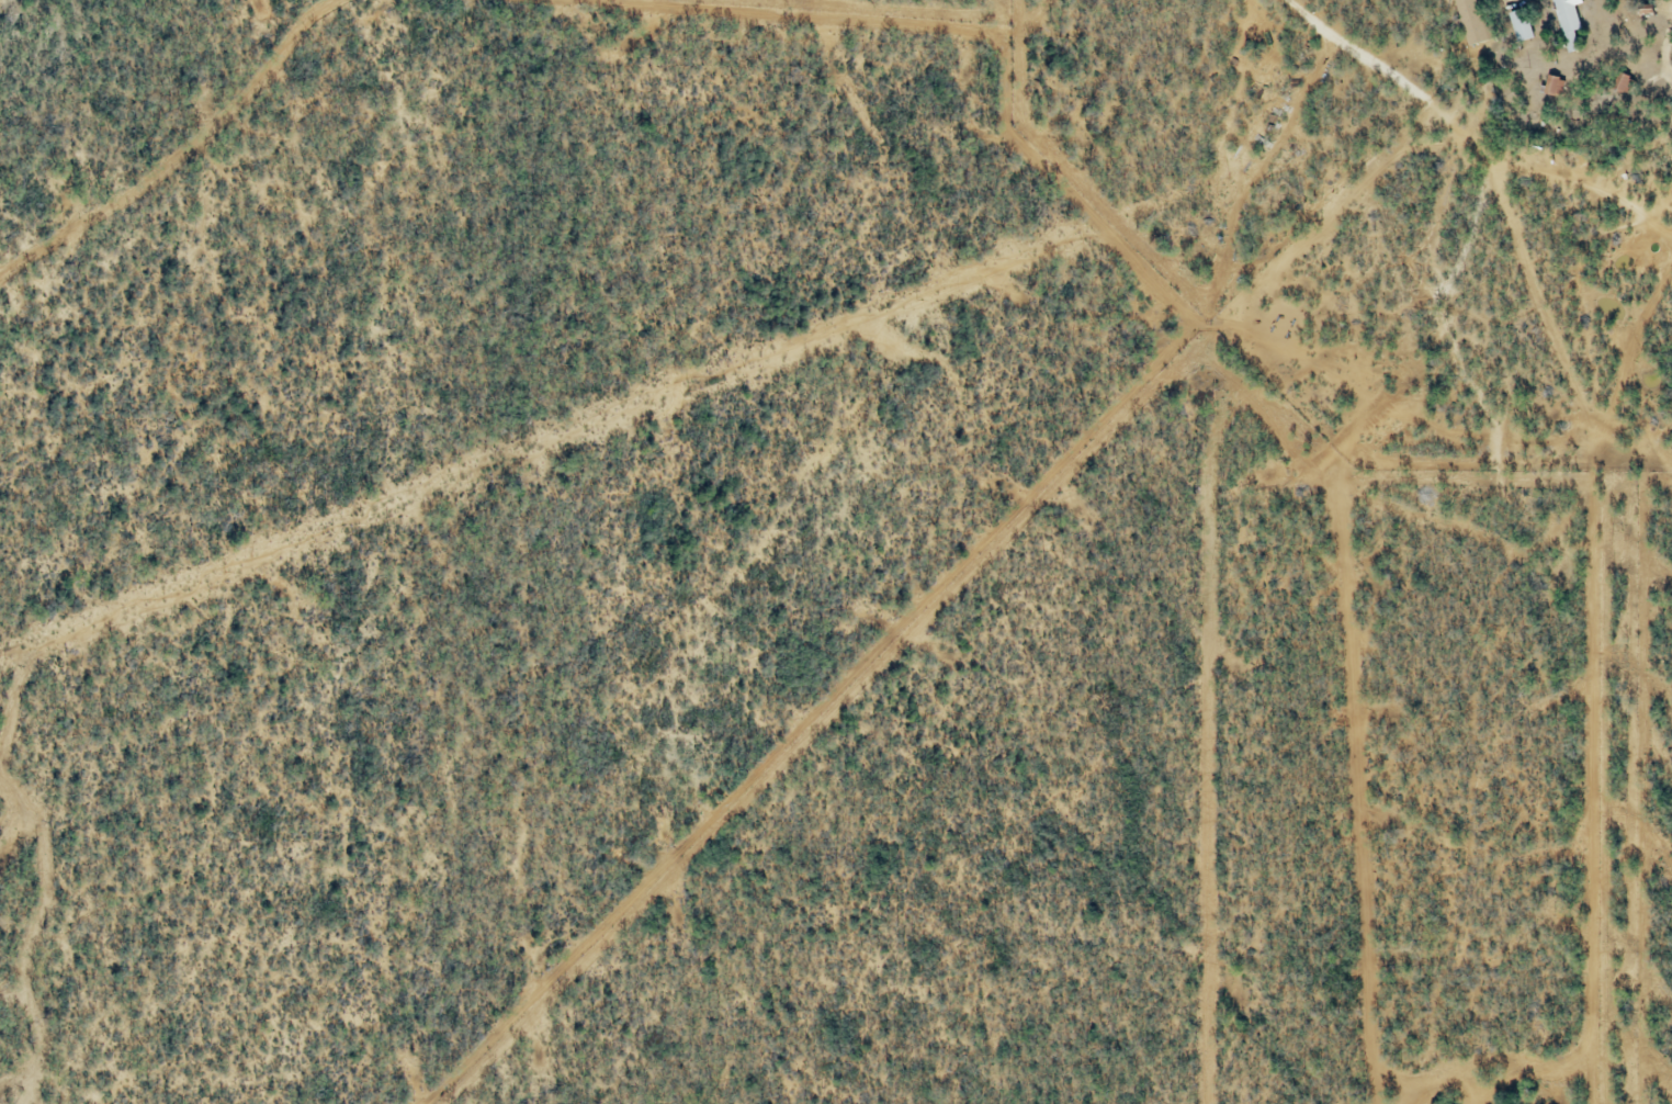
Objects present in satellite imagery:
building: (1567, 21)
building: (1520, 22)

